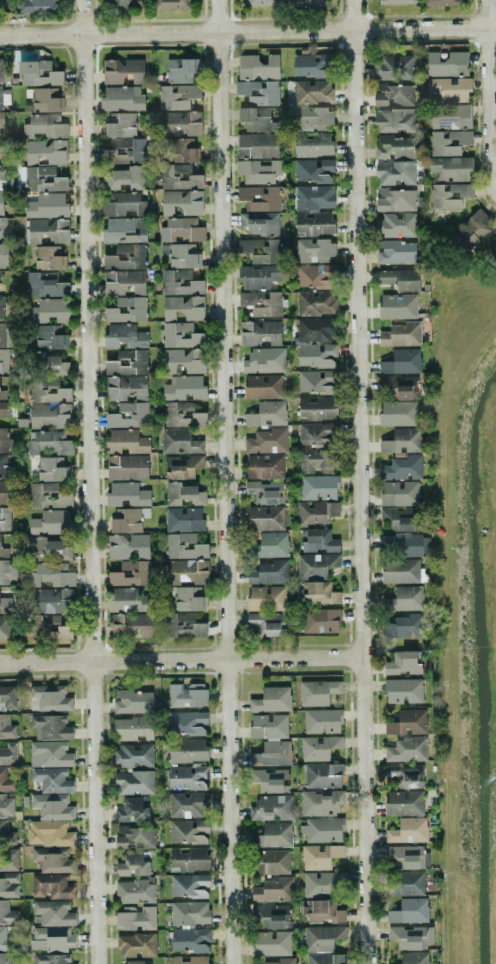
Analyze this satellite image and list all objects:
building: (397, 1)
building: (263, 2)
building: (441, 2)
building: (128, 3)
building: (308, 3)
building: (2, 4)
building: (171, 4)
building: (36, 5)
road: (247, 30)
building: (447, 63)
building: (312, 65)
building: (258, 67)
building: (393, 67)
building: (181, 70)
building: (3, 71)
building: (123, 71)
building: (38, 73)
road: (491, 85)
building: (450, 89)
building: (259, 91)
building: (312, 91)
building: (393, 95)
building: (177, 96)
building: (4, 97)
building: (122, 98)
building: (46, 100)
building: (450, 116)
building: (312, 118)
building: (1, 119)
building: (257, 119)
building: (394, 120)
building: (180, 123)
building: (45, 126)
building: (121, 126)
building: (448, 142)
building: (257, 145)
building: (313, 145)
building: (394, 147)
building: (140, 149)
building: (180, 150)
building: (45, 152)
building: (109, 155)
building: (450, 168)
building: (258, 170)
building: (313, 170)
building: (395, 173)
building: (179, 176)
building: (124, 178)
building: (41, 179)
building: (1, 185)
building: (449, 195)
building: (259, 198)
building: (395, 200)
building: (181, 202)
building: (123, 204)
building: (46, 205)
building: (314, 210)
building: (260, 223)
building: (396, 225)
building: (3, 229)
building: (47, 230)
building: (124, 230)
building: (181, 230)
building: (471, 231)
building: (495, 233)
building: (261, 250)
building: (314, 250)
building: (397, 251)
building: (494, 251)
building: (4, 254)
building: (181, 255)
building: (110, 257)
building: (49, 258)
building: (259, 276)
building: (316, 276)
building: (400, 279)
building: (124, 282)
building: (180, 282)
building: (45, 284)
building: (262, 303)
building: (315, 303)
building: (1, 306)
building: (397, 306)
building: (183, 307)
building: (127, 309)
building: (48, 311)
building: (315, 329)
building: (260, 332)
building: (5, 334)
building: (401, 334)
building: (180, 335)
building: (50, 337)
building: (124, 337)
building: (316, 355)
building: (4, 360)
building: (264, 360)
building: (183, 361)
building: (401, 361)
building: (127, 362)
building: (54, 366)
building: (317, 381)
building: (263, 386)
building: (184, 388)
building: (396, 389)
building: (2, 394)
building: (127, 401)
building: (48, 403)
building: (317, 408)
building: (3, 409)
building: (398, 413)
building: (182, 414)
building: (276, 428)
building: (318, 434)
building: (3, 440)
building: (126, 441)
building: (179, 441)
building: (402, 441)
building: (48, 442)
building: (318, 461)
building: (182, 466)
building: (265, 466)
building: (5, 467)
building: (127, 467)
building: (402, 467)
building: (51, 469)
road: (91, 481)
road: (226, 481)
road: (360, 482)
building: (318, 487)
building: (3, 492)
building: (265, 492)
building: (399, 493)
building: (183, 494)
building: (127, 495)
building: (48, 496)
building: (316, 512)
building: (5, 518)
building: (265, 518)
building: (129, 519)
building: (184, 519)
building: (396, 520)
building: (51, 522)
building: (318, 540)
building: (404, 543)
building: (269, 545)
building: (128, 546)
building: (183, 546)
building: (47, 548)
building: (4, 550)
building: (316, 565)
building: (187, 571)
building: (400, 571)
building: (266, 572)
building: (140, 574)
building: (50, 575)
building: (320, 593)
building: (188, 598)
building: (266, 598)
building: (404, 599)
building: (50, 600)
building: (126, 600)
building: (6, 601)
building: (321, 620)
building: (265, 623)
building: (131, 624)
building: (182, 625)
building: (404, 626)
building: (48, 627)
building: (5, 628)
road: (181, 660)
building: (403, 663)
building: (403, 690)
building: (317, 692)
building: (187, 694)
building: (7, 698)
building: (49, 698)
building: (271, 699)
building: (132, 702)
building: (322, 721)
building: (186, 722)
building: (407, 722)
building: (50, 727)
building: (133, 728)
building: (270, 739)
building: (318, 747)
building: (407, 749)
building: (187, 750)
building: (8, 753)
building: (50, 754)
building: (133, 755)
building: (322, 775)
building: (403, 776)
building: (187, 777)
building: (6, 780)
building: (52, 780)
building: (269, 780)
building: (134, 782)
building: (322, 802)
building: (404, 803)
building: (187, 804)
building: (6, 806)
building: (52, 806)
building: (271, 807)
building: (131, 810)
building: (322, 829)
building: (408, 830)
building: (188, 831)
building: (48, 833)
building: (272, 835)
building: (135, 837)
building: (320, 856)
building: (406, 856)
building: (189, 859)
building: (53, 860)
building: (272, 862)
building: (132, 865)
building: (324, 883)
building: (405, 883)
building: (9, 884)
building: (189, 885)
building: (51, 886)
building: (272, 890)
building: (135, 891)
building: (322, 911)
building: (409, 911)
building: (7, 913)
building: (52, 913)
building: (189, 913)
building: (268, 916)
building: (136, 917)
building: (322, 937)
building: (411, 937)
building: (51, 938)
building: (6, 940)
building: (190, 940)
building: (272, 943)
building: (136, 945)
building: (4, 958)
building: (50, 958)
building: (414, 958)
building: (326, 959)
building: (189, 960)
building: (278, 961)
building: (135, 962)

